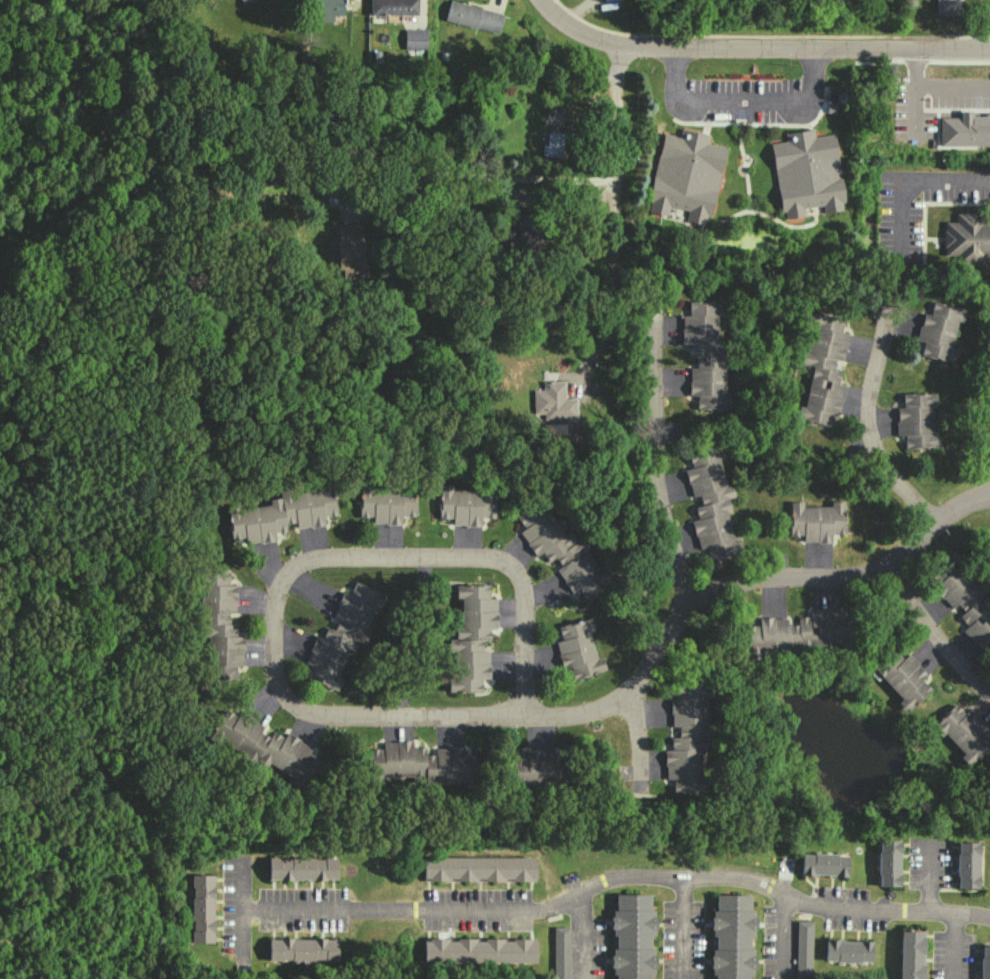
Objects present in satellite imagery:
building: (606, 0)
building: (244, 1)
building: (392, 7)
building: (946, 7)
building: (325, 9)
building: (472, 16)
building: (414, 38)
road: (759, 46)
road: (951, 87)
road: (913, 91)
road: (740, 102)
building: (964, 129)
building: (806, 173)
building: (686, 175)
road: (912, 182)
road: (543, 187)
building: (524, 235)
building: (968, 239)
road: (611, 285)
building: (938, 330)
building: (705, 354)
building: (822, 369)
building: (553, 401)
building: (916, 420)
road: (871, 425)
road: (661, 455)
building: (385, 503)
building: (710, 503)
building: (464, 505)
building: (281, 514)
building: (816, 520)
building: (559, 549)
road: (742, 584)
road: (278, 585)
building: (964, 599)
building: (220, 625)
building: (801, 633)
road: (937, 634)
building: (341, 635)
building: (471, 638)
building: (577, 649)
building: (903, 678)
road: (639, 724)
building: (963, 732)
building: (686, 738)
building: (265, 747)
building: (422, 764)
building: (539, 770)
road: (640, 775)
building: (887, 862)
building: (822, 864)
building: (966, 864)
building: (485, 868)
building: (308, 870)
road: (609, 877)
road: (929, 880)
building: (205, 910)
road: (681, 925)
road: (576, 933)
road: (780, 934)
building: (632, 936)
building: (732, 936)
road: (953, 947)
building: (803, 948)
building: (308, 949)
building: (482, 950)
building: (847, 951)
building: (560, 952)
building: (911, 954)
building: (984, 962)

